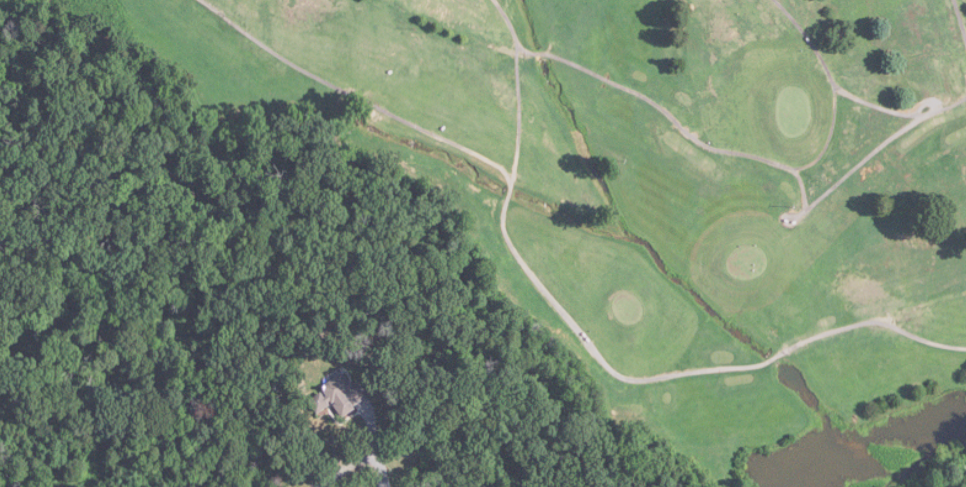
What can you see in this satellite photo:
park: (655, 180)
building: (336, 396)
road: (347, 468)

